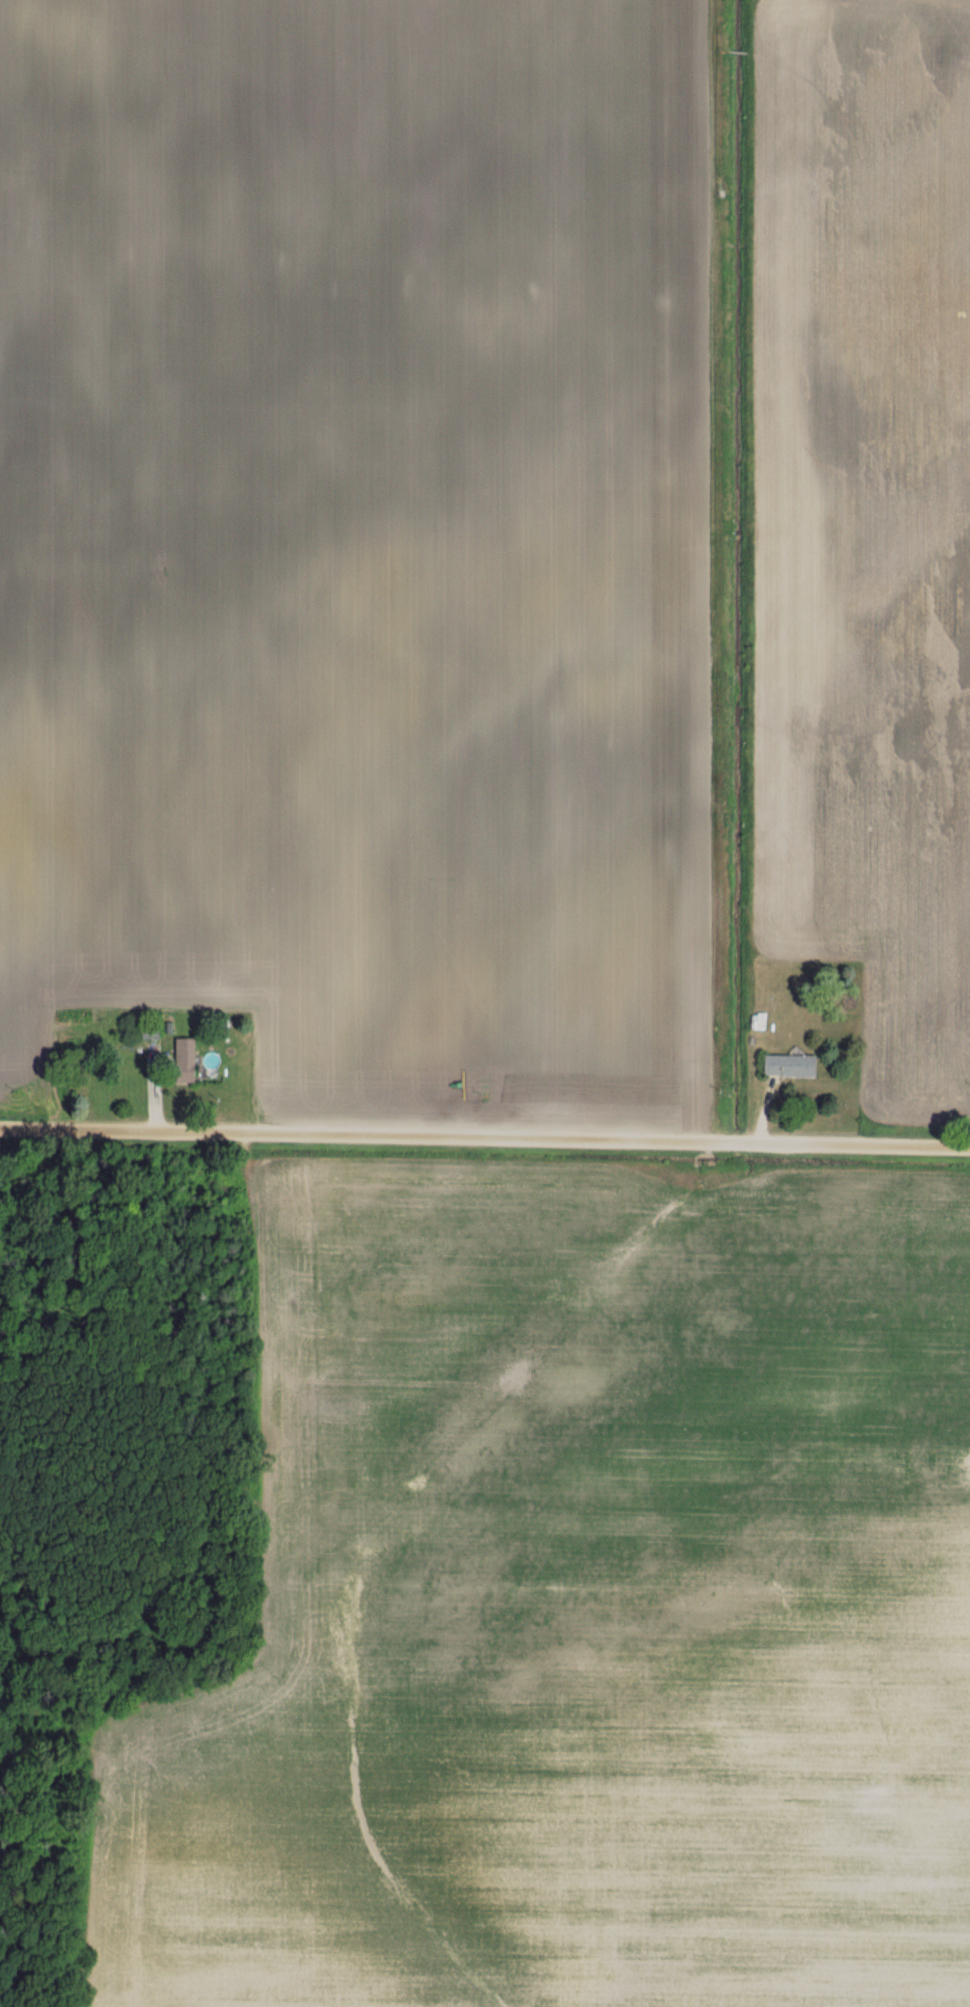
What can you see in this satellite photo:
building: (763, 1021)
building: (156, 1030)
building: (190, 1059)
building: (797, 1065)
road: (484, 1136)

